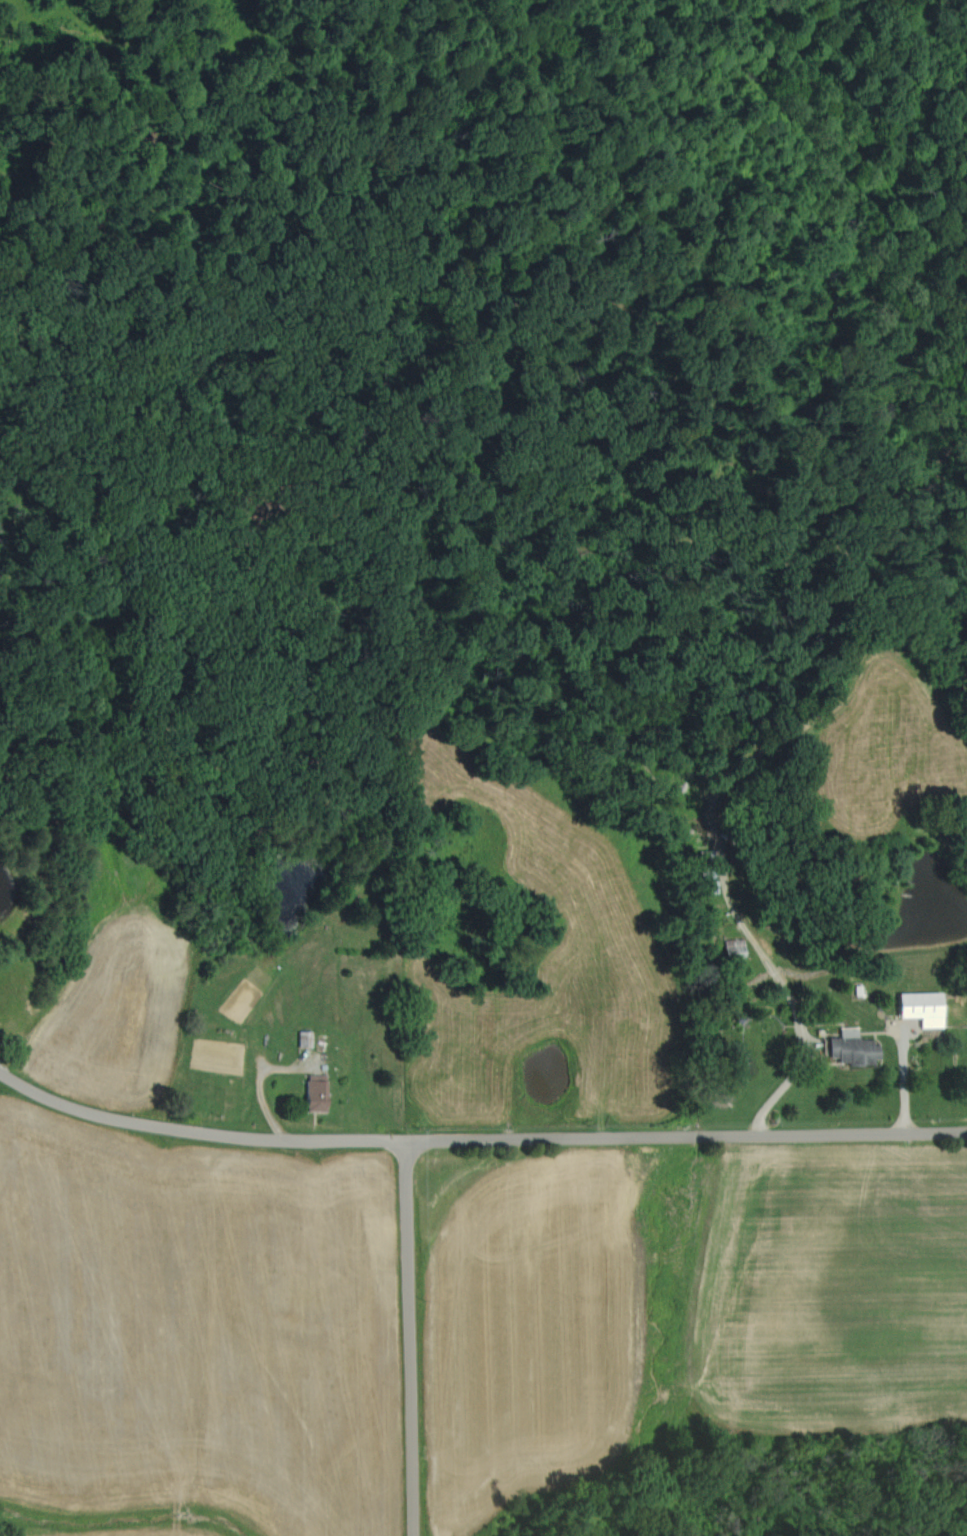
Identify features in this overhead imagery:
building: (705, 869)
building: (733, 947)
building: (920, 1008)
building: (852, 1048)
road: (782, 1076)
road: (264, 1077)
building: (314, 1091)
road: (201, 1125)
road: (689, 1133)
road: (412, 1334)

